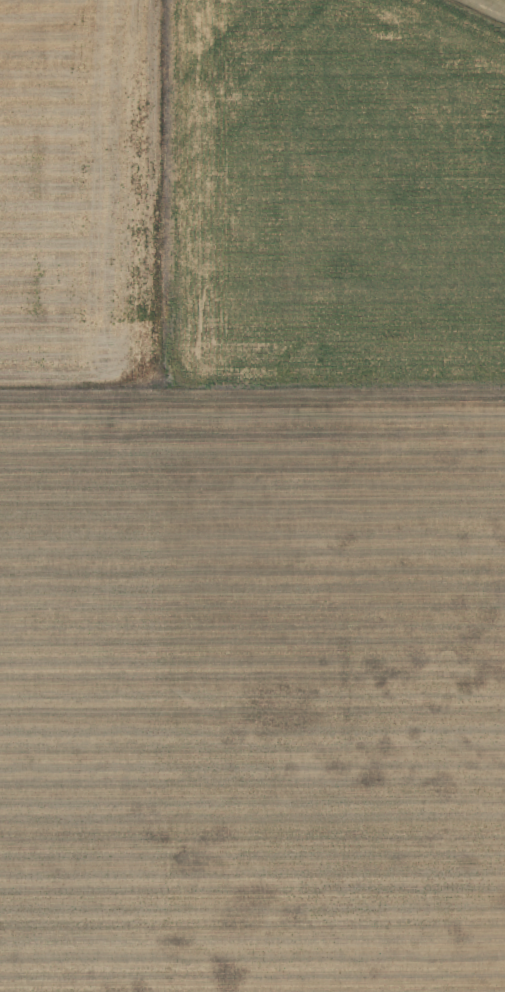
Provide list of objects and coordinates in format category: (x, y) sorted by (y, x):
railway: (117, 126)
road: (169, 324)

